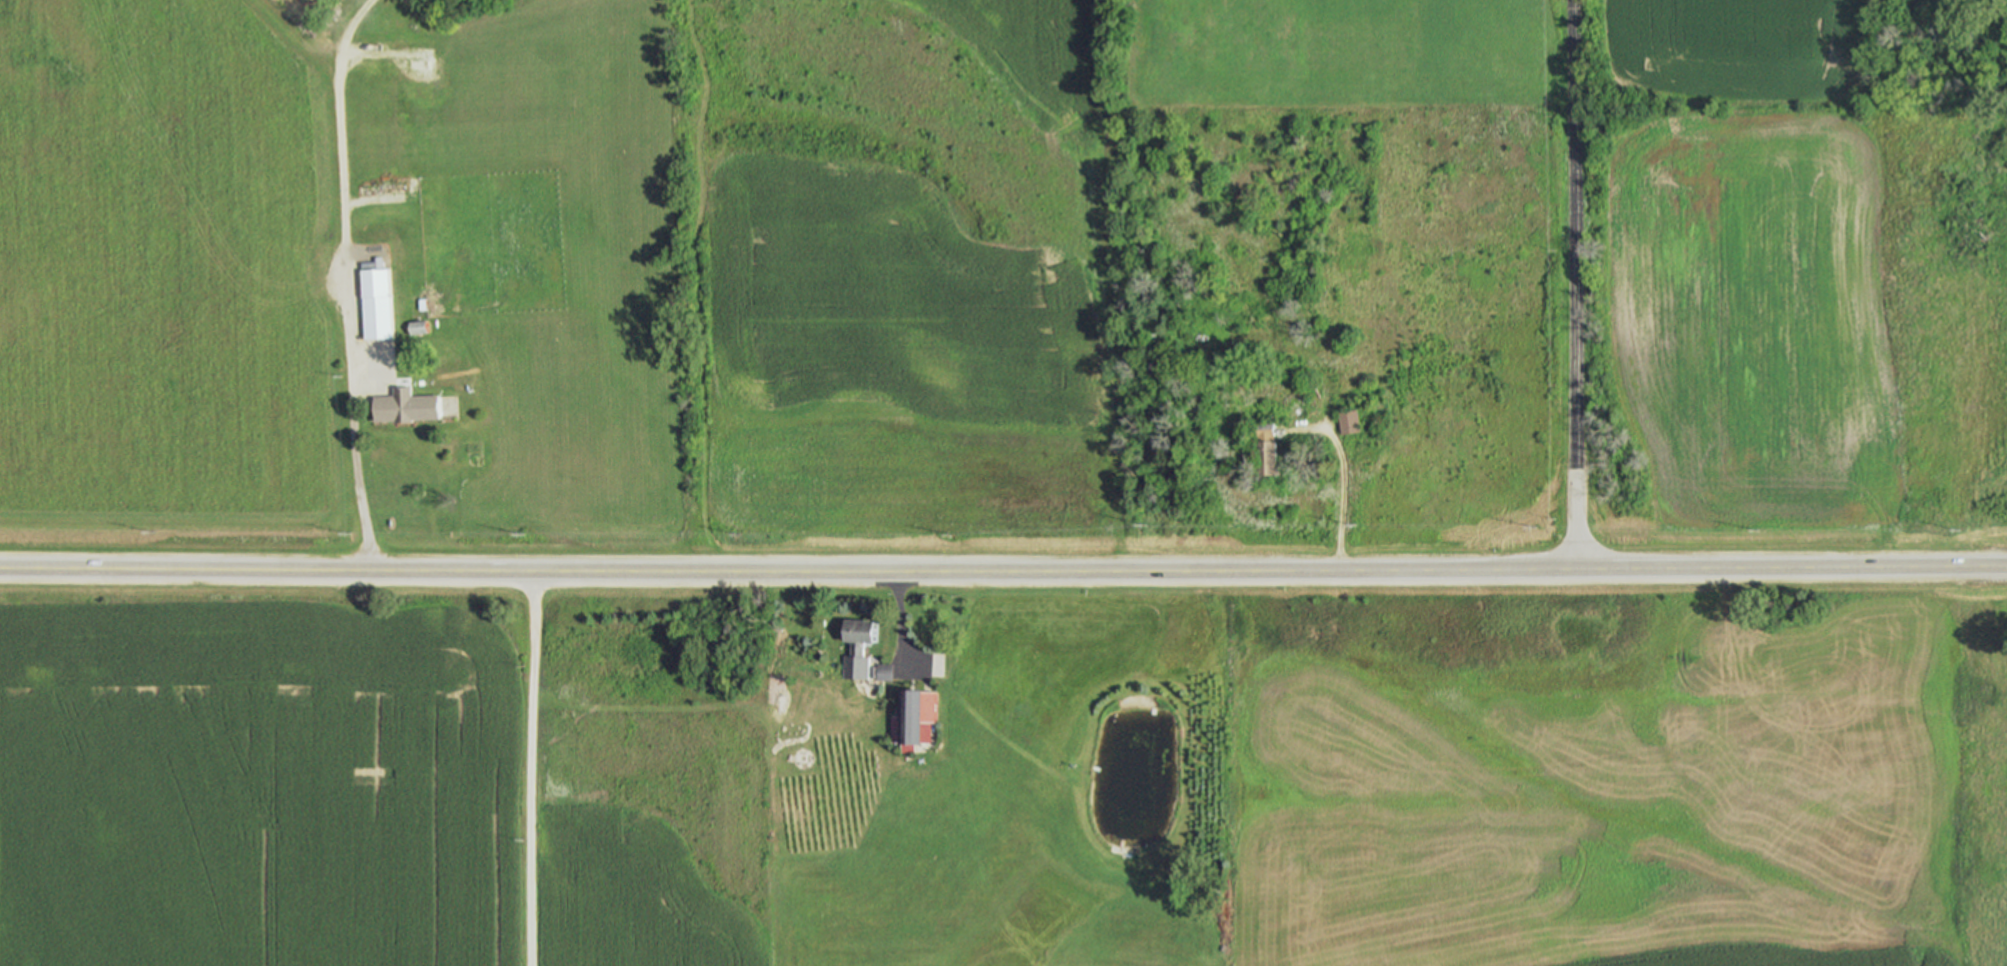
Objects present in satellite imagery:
quarry: (378, 15)
road: (299, 40)
road: (336, 117)
road: (1574, 284)
building: (373, 304)
building: (416, 327)
road: (350, 406)
building: (403, 406)
building: (1346, 421)
building: (1263, 441)
road: (1003, 569)
road: (900, 626)
building: (856, 637)
building: (879, 671)
building: (909, 714)
road: (528, 767)

